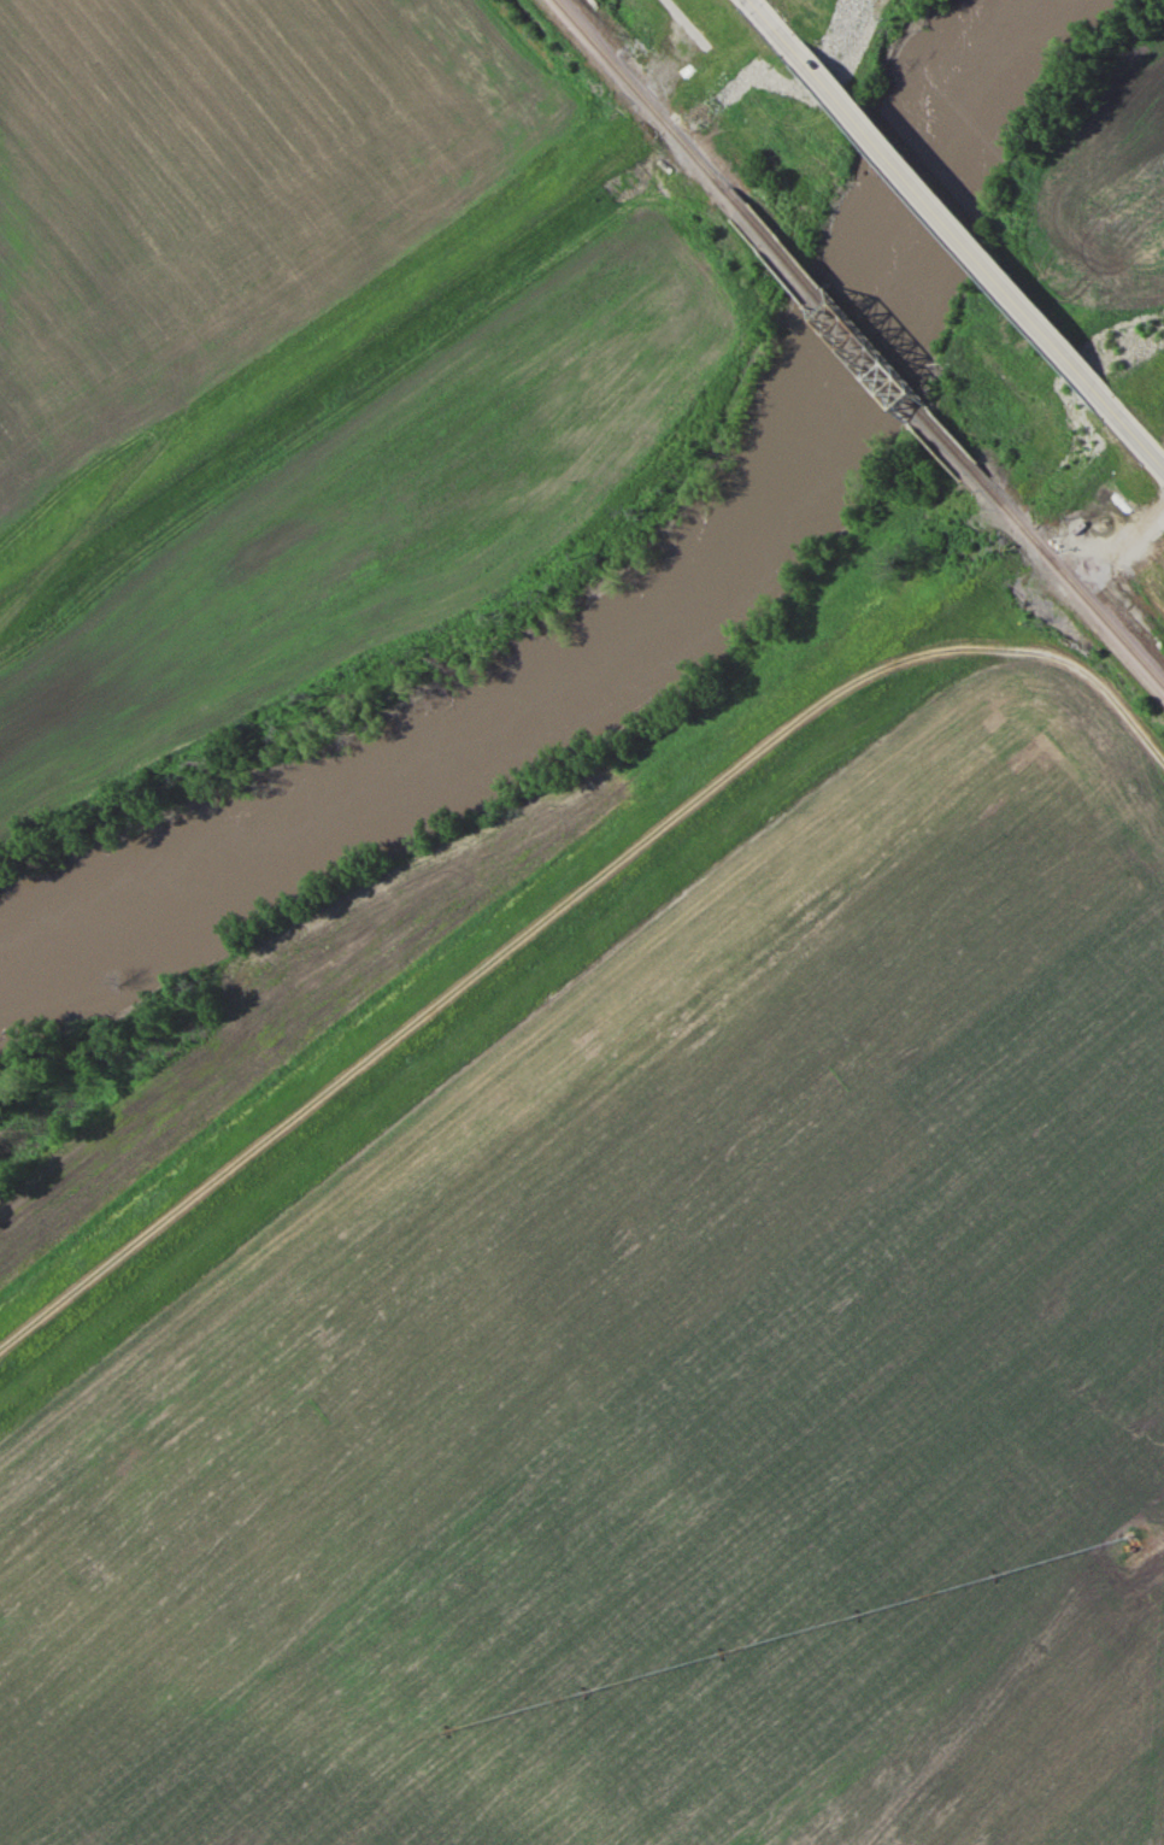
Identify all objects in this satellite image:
road: (748, 0)
railway: (646, 101)
road: (935, 211)
railway: (862, 347)
road: (1142, 442)
railway: (1074, 588)
river: (656, 628)
road: (568, 903)

